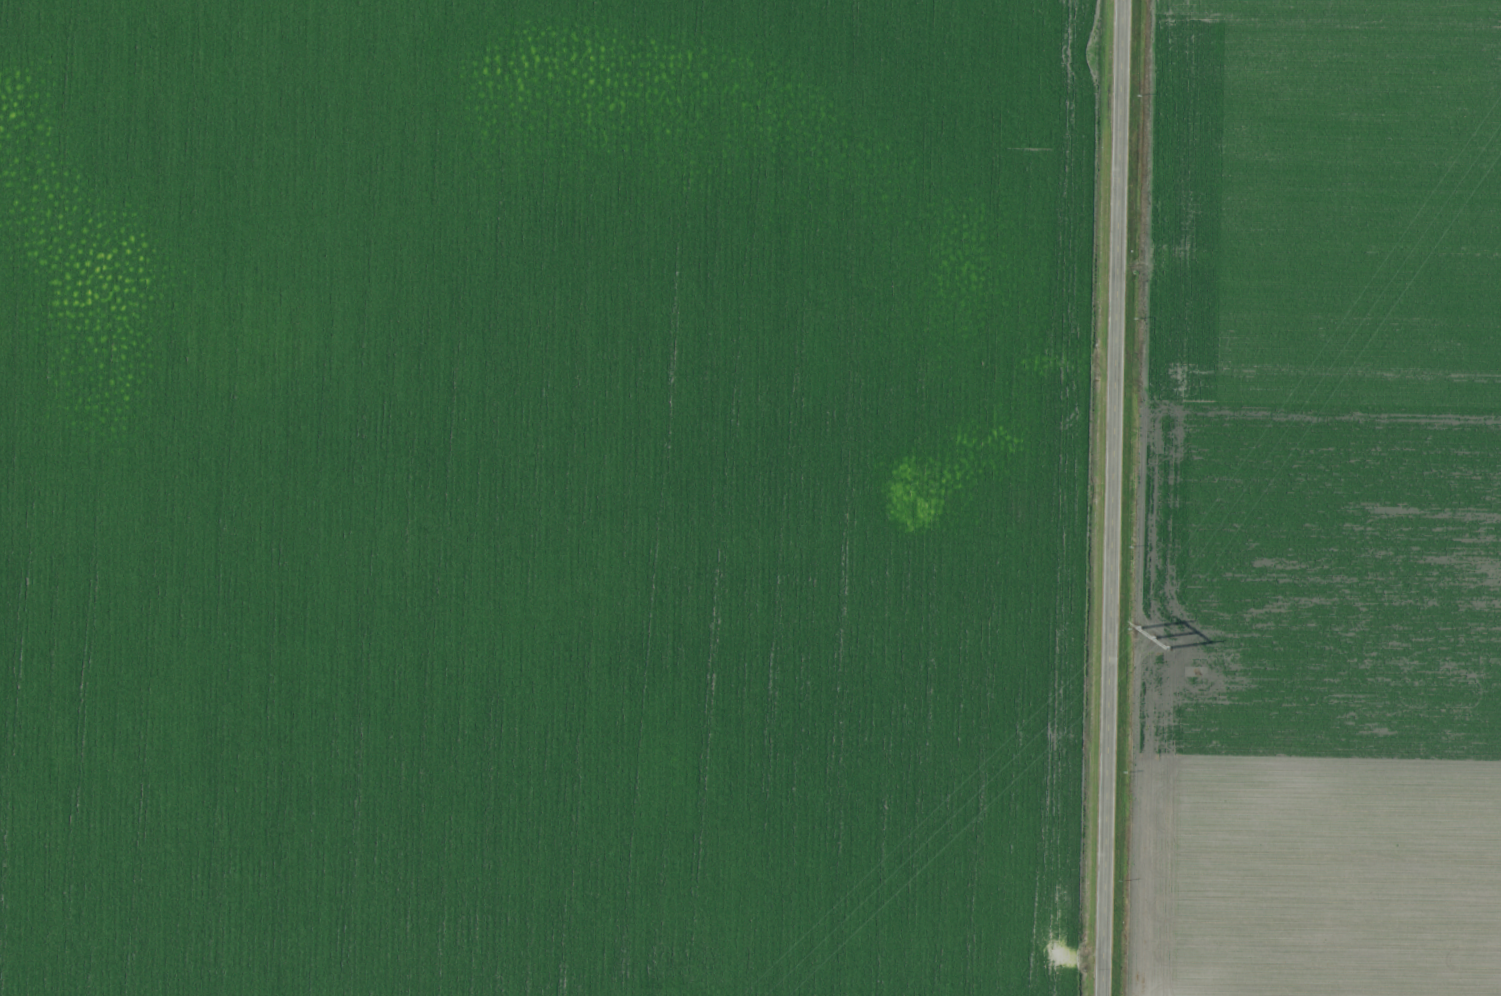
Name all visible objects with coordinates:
road: (1105, 497)
power tower: (1158, 636)

